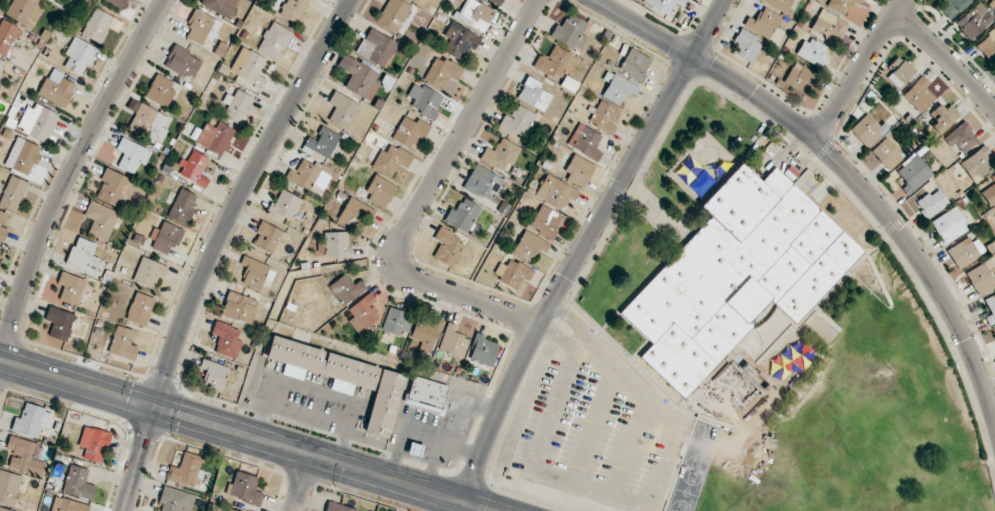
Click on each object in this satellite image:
building: (416, 1)
building: (498, 1)
building: (116, 2)
building: (663, 4)
building: (779, 4)
building: (219, 5)
building: (842, 5)
building: (950, 6)
building: (293, 9)
building: (24, 11)
building: (475, 14)
building: (392, 15)
building: (973, 20)
building: (763, 22)
building: (97, 25)
building: (829, 25)
building: (201, 26)
building: (570, 32)
building: (8, 35)
building: (458, 39)
building: (274, 40)
building: (987, 45)
building: (746, 46)
building: (375, 47)
building: (811, 51)
building: (79, 55)
road: (947, 58)
building: (182, 62)
building: (555, 63)
building: (1, 64)
building: (634, 64)
building: (248, 66)
road: (858, 69)
building: (899, 70)
building: (441, 72)
building: (359, 77)
building: (799, 79)
building: (57, 88)
building: (617, 88)
building: (160, 90)
building: (533, 94)
building: (918, 94)
building: (424, 100)
building: (236, 106)
building: (341, 110)
building: (941, 116)
building: (603, 117)
building: (37, 121)
building: (516, 121)
building: (148, 123)
building: (867, 129)
building: (409, 131)
building: (214, 137)
building: (961, 137)
building: (585, 141)
building: (321, 143)
building: (886, 153)
building: (500, 154)
building: (131, 155)
building: (22, 156)
building: (391, 160)
building: (977, 163)
road: (841, 164)
building: (195, 169)
building: (578, 171)
building: (913, 174)
road: (68, 176)
building: (306, 176)
building: (483, 182)
building: (113, 188)
building: (555, 191)
building: (379, 192)
building: (989, 192)
building: (13, 193)
road: (427, 193)
road: (239, 197)
building: (931, 202)
building: (285, 205)
building: (182, 206)
building: (354, 213)
building: (463, 216)
building: (100, 219)
building: (545, 221)
building: (949, 225)
building: (2, 229)
building: (167, 237)
building: (269, 238)
building: (337, 244)
building: (529, 245)
building: (447, 246)
road: (580, 249)
building: (964, 251)
building: (0, 252)
building: (81, 253)
building: (148, 272)
building: (254, 273)
building: (512, 273)
building: (735, 274)
building: (979, 279)
building: (71, 288)
building: (346, 289)
building: (238, 306)
building: (140, 308)
building: (990, 308)
building: (362, 313)
building: (396, 321)
building: (59, 322)
building: (425, 330)
building: (226, 339)
building: (453, 341)
building: (122, 343)
building: (483, 350)
building: (323, 365)
building: (726, 371)
building: (213, 375)
building: (427, 394)
building: (384, 403)
traffic signals: (156, 408)
building: (31, 420)
road: (246, 435)
building: (94, 443)
building: (415, 450)
building: (24, 456)
road: (140, 459)
building: (186, 469)
building: (78, 482)
road: (302, 483)
building: (8, 488)
building: (244, 488)
building: (175, 500)
building: (68, 505)
building: (336, 507)
building: (0, 510)
building: (230, 510)

